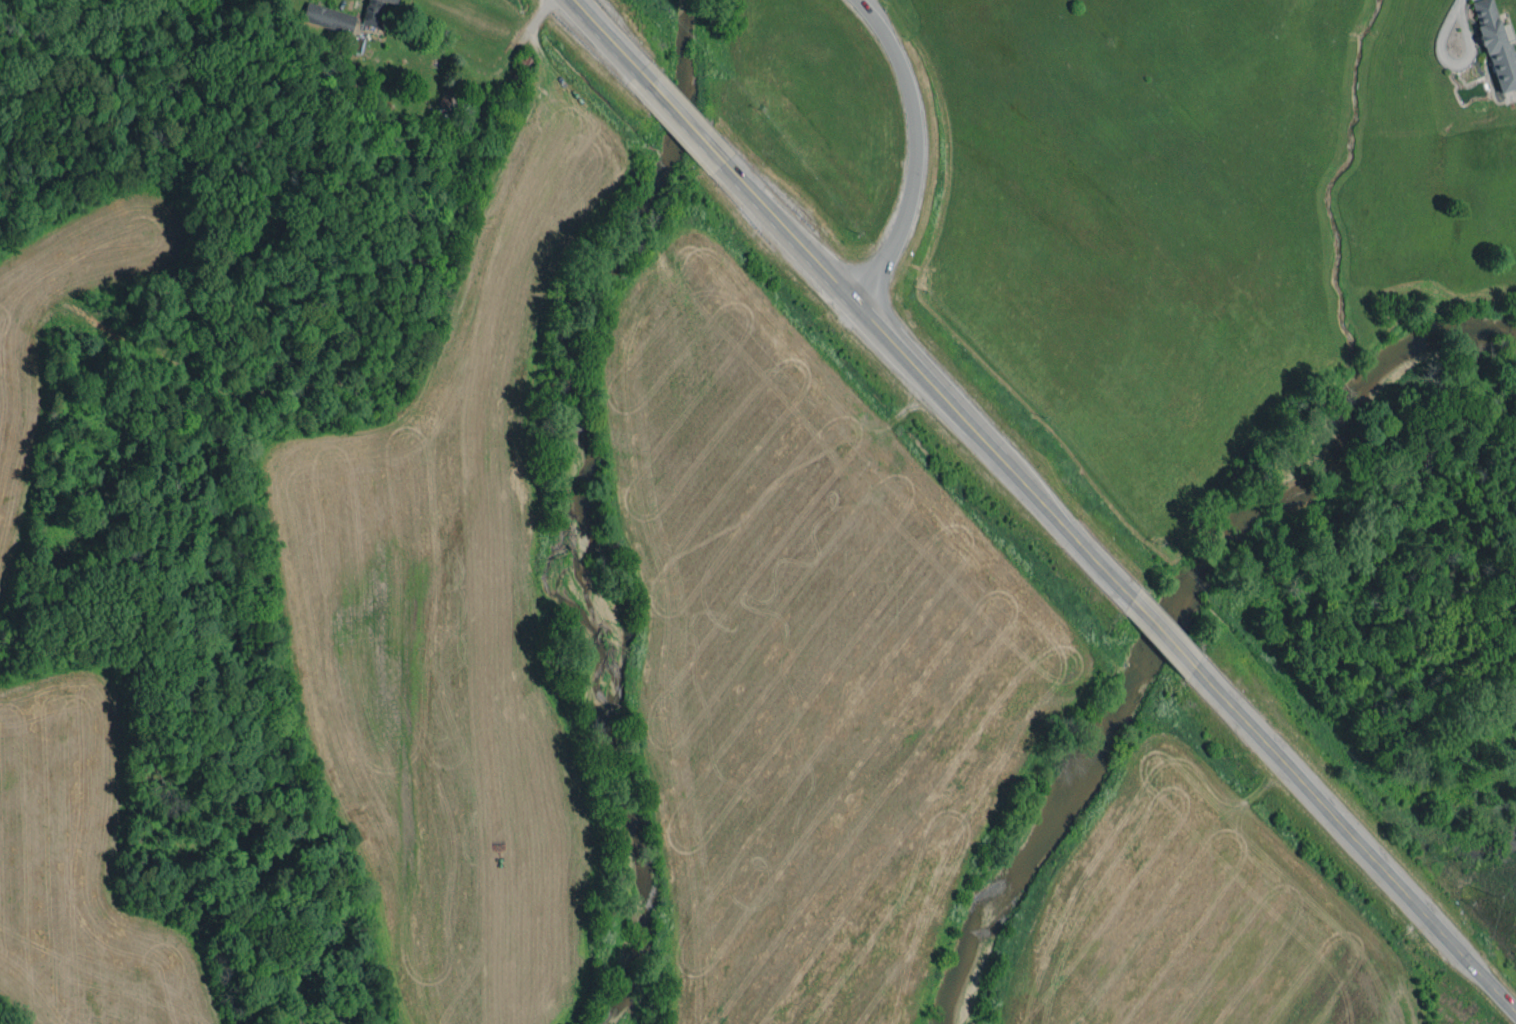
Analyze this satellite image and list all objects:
road: (1452, 1)
building: (328, 17)
building: (371, 21)
building: (1497, 45)
road: (1450, 61)
building: (448, 99)
road: (911, 148)
road: (854, 297)
river: (1181, 610)
road: (1164, 631)
road: (1357, 839)

